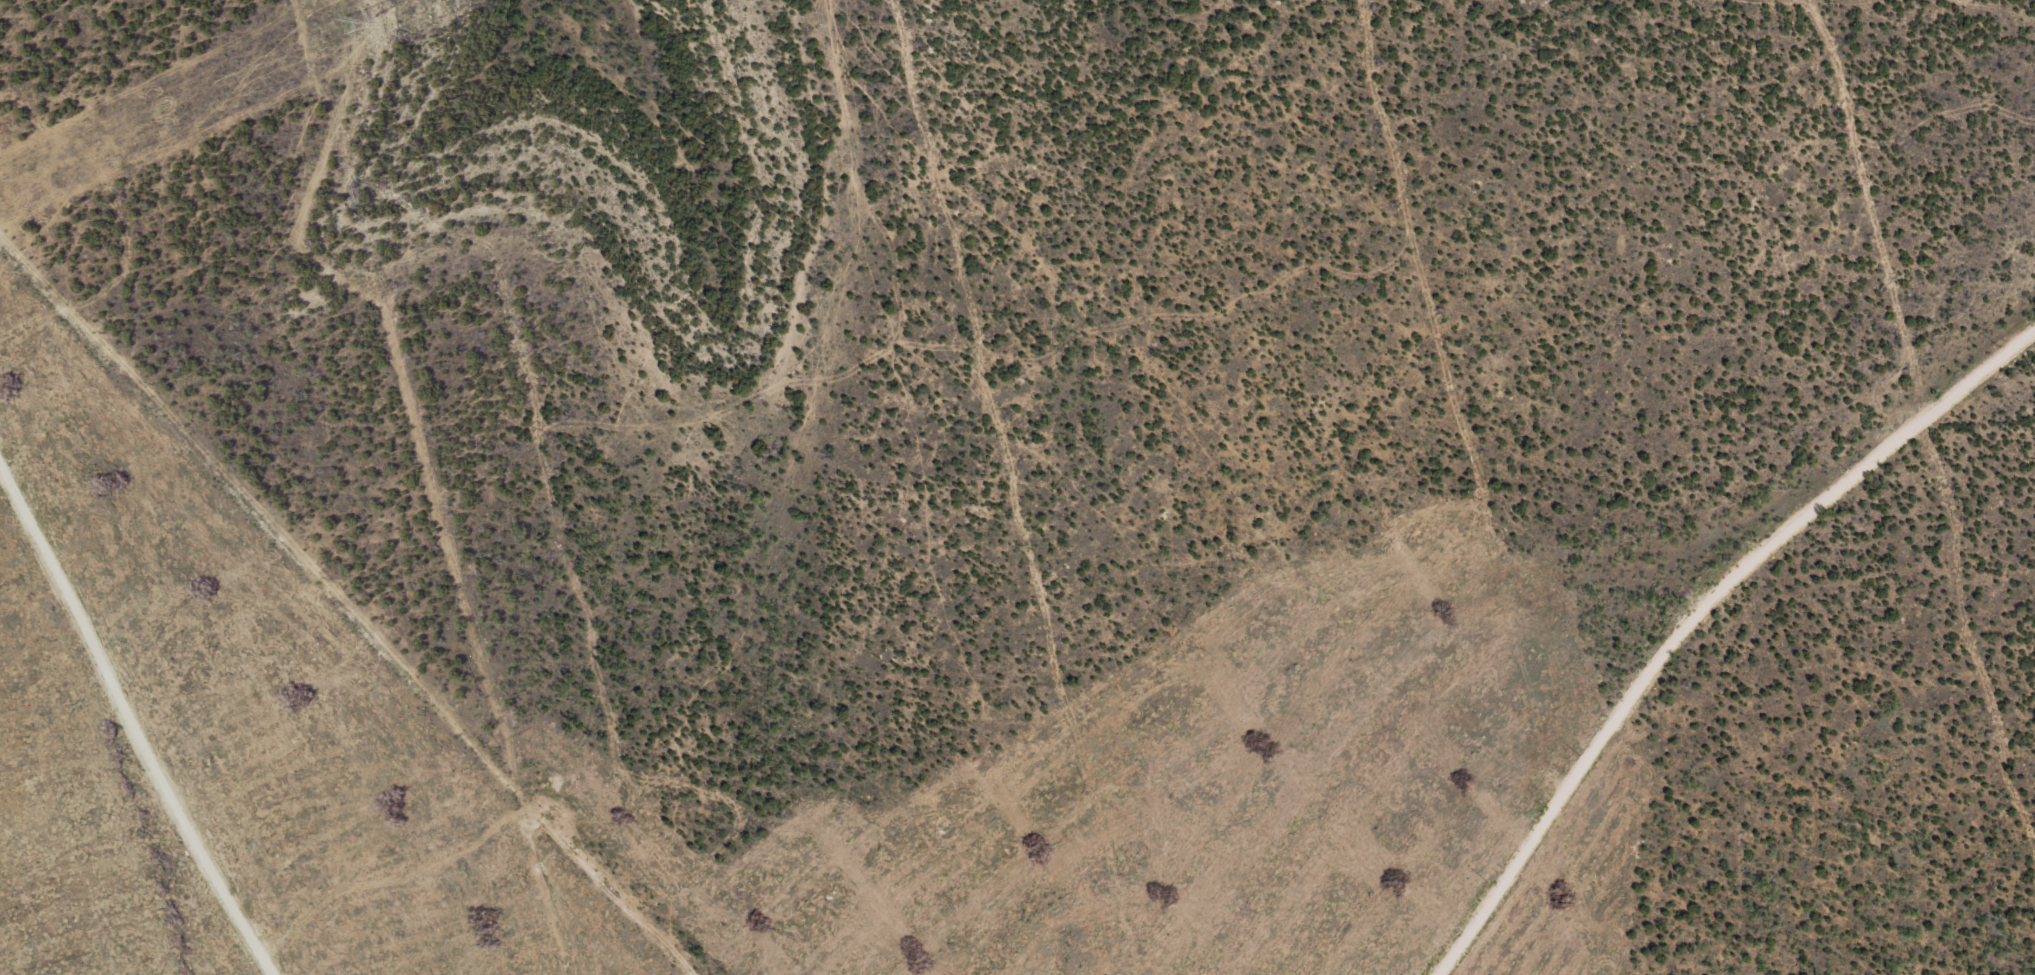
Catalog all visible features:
power tower: (342, 24)
road: (119, 733)

